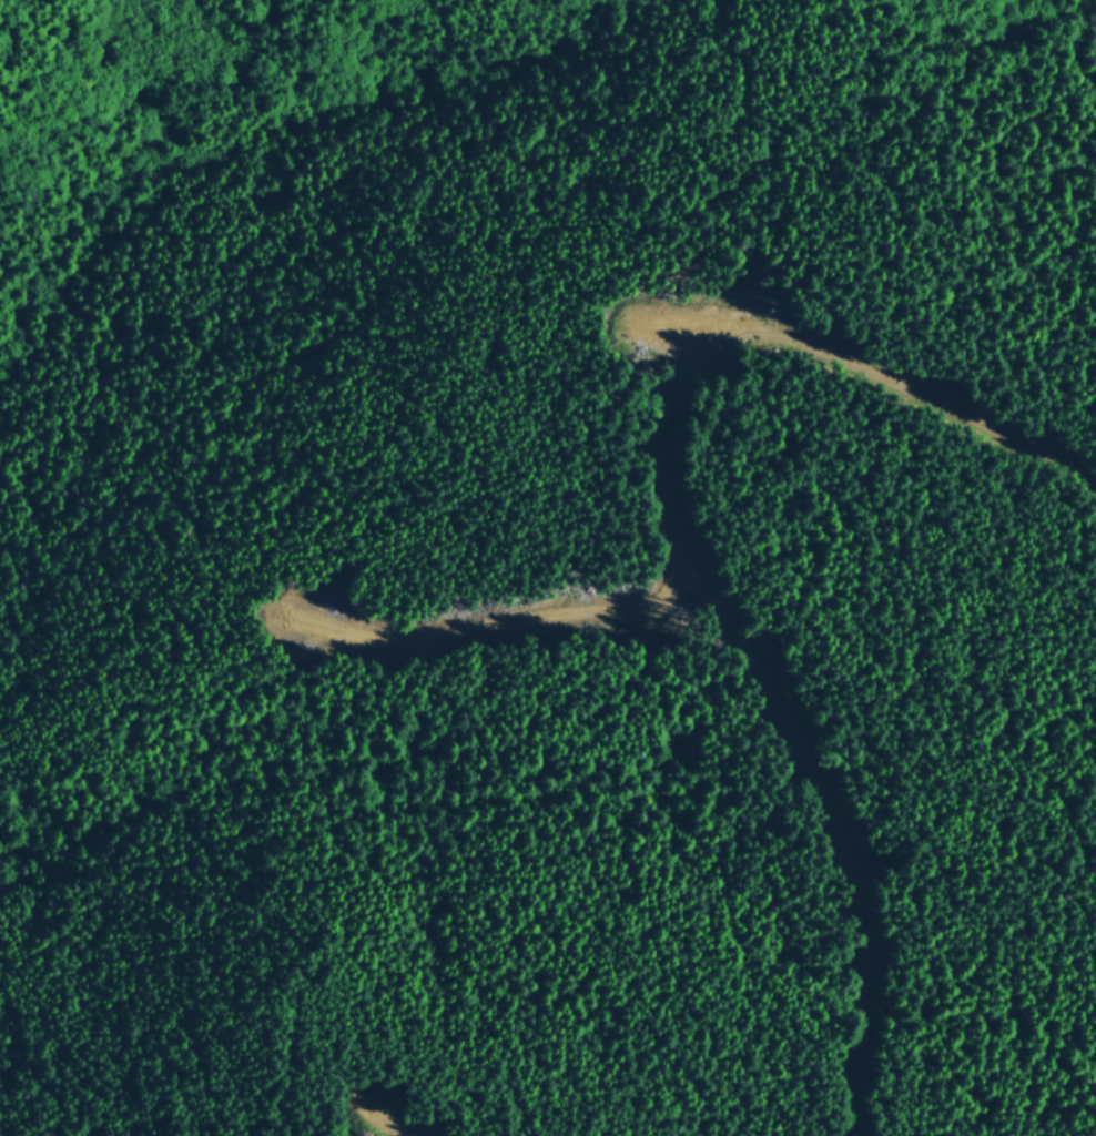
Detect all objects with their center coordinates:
road: (711, 555)

